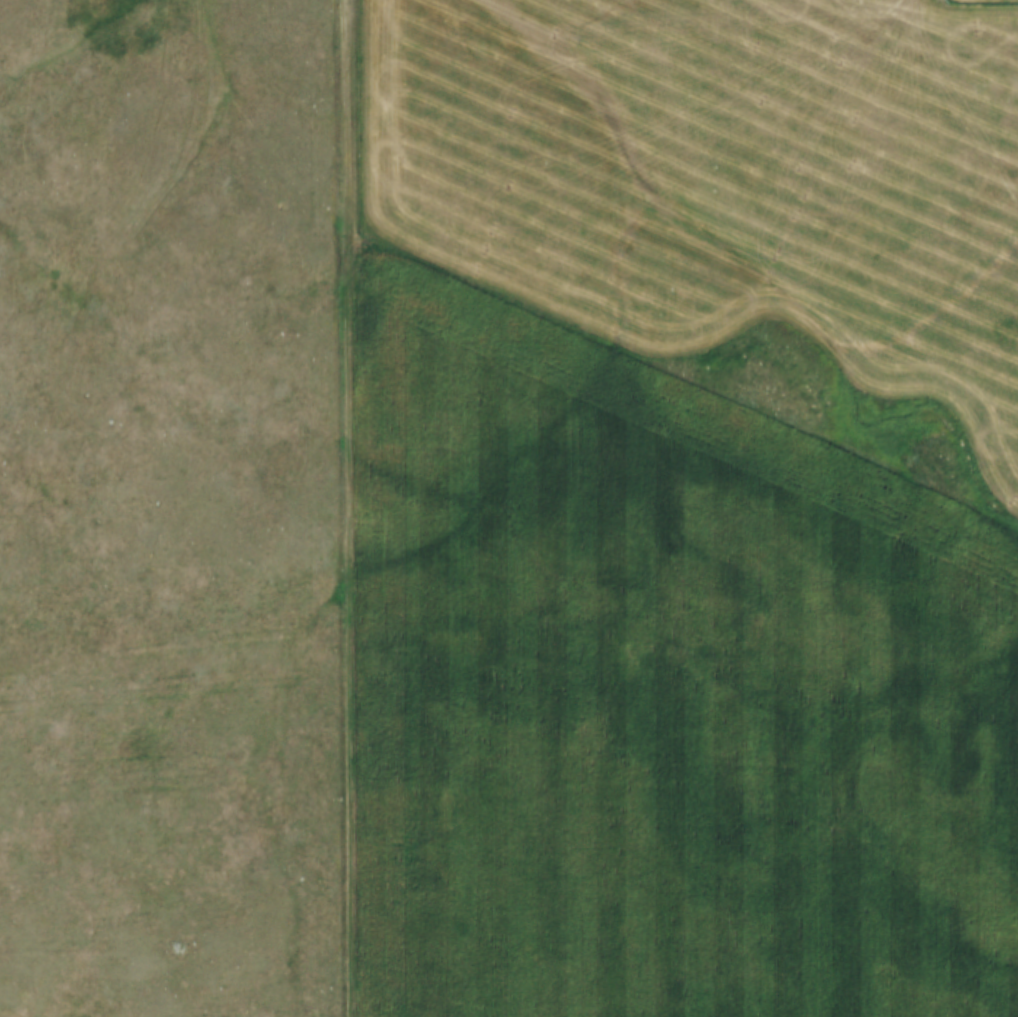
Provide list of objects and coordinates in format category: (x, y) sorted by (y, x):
road: (356, 508)

